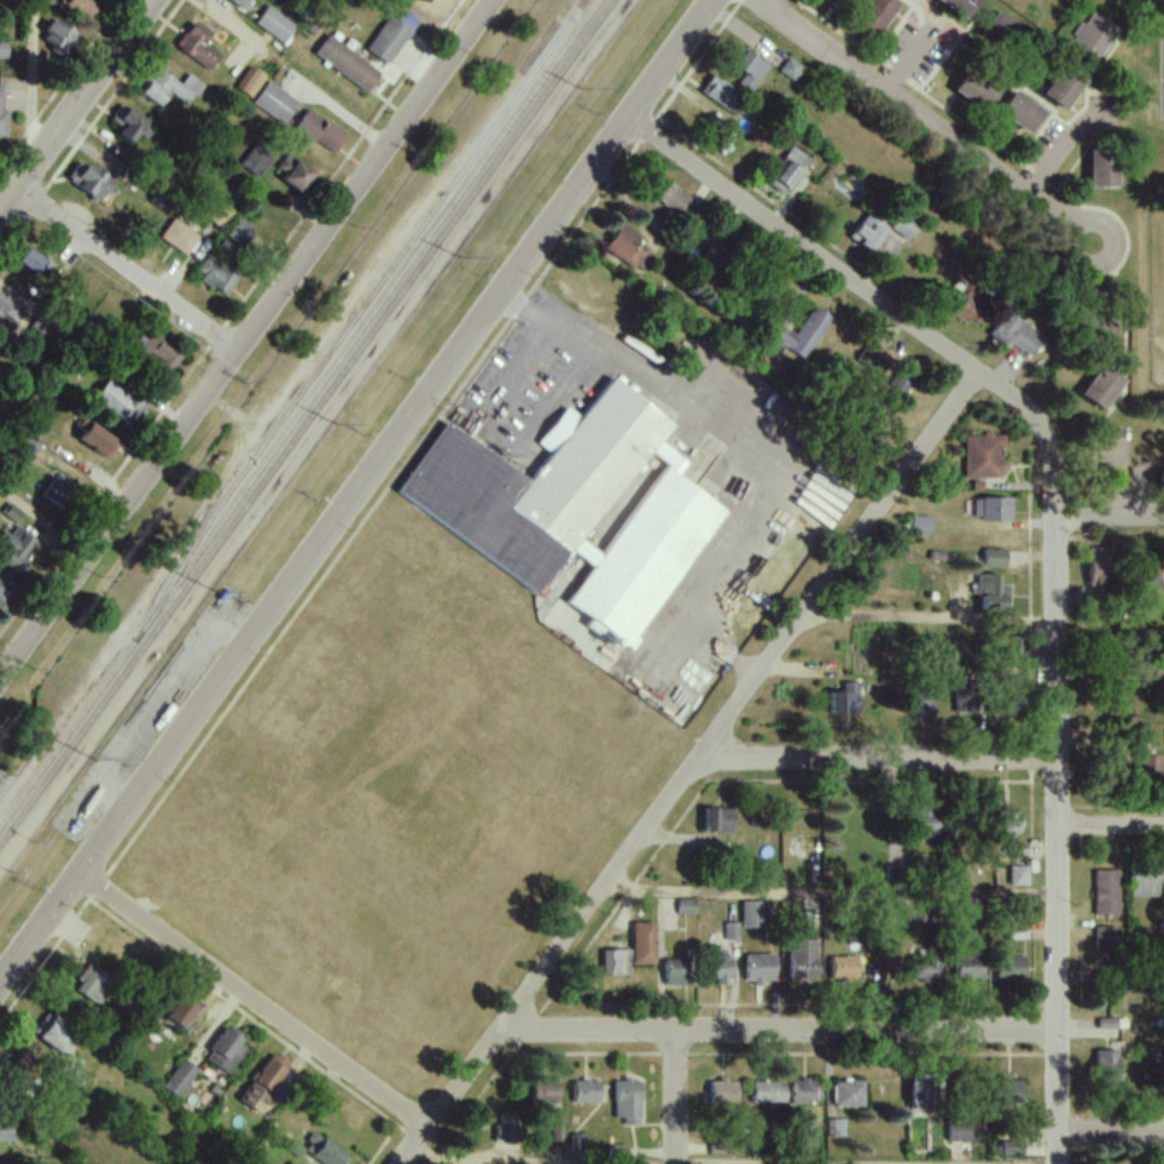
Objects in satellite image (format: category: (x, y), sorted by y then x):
building: (426, 1)
building: (828, 1)
building: (241, 2)
building: (81, 6)
building: (964, 6)
building: (878, 13)
building: (275, 24)
building: (999, 25)
building: (59, 35)
building: (1094, 35)
building: (391, 36)
building: (199, 47)
building: (2, 51)
building: (348, 63)
road: (907, 68)
building: (791, 69)
building: (751, 70)
building: (251, 81)
park: (1159, 81)
road: (30, 82)
building: (1065, 86)
building: (170, 87)
building: (977, 89)
building: (723, 94)
building: (274, 101)
road: (75, 104)
building: (1023, 111)
building: (2, 118)
building: (128, 122)
road: (938, 127)
building: (319, 132)
building: (256, 159)
road: (1048, 162)
building: (1104, 168)
building: (788, 170)
building: (295, 171)
building: (91, 180)
building: (673, 197)
building: (219, 214)
building: (904, 226)
building: (240, 231)
building: (869, 231)
building: (179, 237)
road: (803, 245)
building: (625, 246)
building: (35, 262)
road: (121, 264)
park: (1151, 266)
building: (216, 275)
park: (1157, 293)
building: (973, 305)
building: (6, 309)
railway: (351, 326)
building: (802, 333)
building: (1018, 334)
road: (244, 337)
building: (157, 350)
building: (874, 360)
building: (902, 382)
building: (1104, 386)
building: (121, 401)
railway: (302, 415)
railway: (307, 423)
road: (723, 429)
building: (98, 438)
building: (984, 456)
road: (1119, 479)
building: (59, 489)
road: (355, 493)
building: (578, 507)
building: (993, 508)
road: (1108, 517)
road: (43, 520)
building: (921, 523)
building: (14, 547)
building: (995, 558)
building: (1100, 566)
building: (4, 590)
building: (993, 592)
road: (924, 617)
road: (739, 660)
road: (1110, 673)
building: (967, 698)
building: (845, 699)
road: (1057, 751)
road: (878, 758)
building: (1150, 766)
road: (689, 769)
building: (717, 820)
building: (926, 823)
road: (1111, 823)
building: (1007, 825)
building: (1018, 875)
building: (1143, 884)
road: (106, 890)
road: (831, 890)
building: (1105, 892)
building: (686, 906)
building: (751, 914)
building: (732, 931)
building: (1104, 939)
building: (644, 943)
building: (802, 958)
building: (616, 962)
building: (929, 965)
building: (720, 966)
building: (759, 967)
building: (844, 967)
building: (968, 967)
building: (1011, 971)
building: (676, 972)
road: (1111, 976)
building: (94, 983)
building: (182, 1011)
road: (279, 1018)
building: (1107, 1023)
road: (780, 1031)
building: (56, 1032)
building: (227, 1049)
building: (23, 1066)
building: (1107, 1066)
building: (181, 1079)
building: (266, 1083)
building: (586, 1092)
building: (723, 1092)
building: (805, 1092)
building: (1009, 1092)
building: (545, 1093)
building: (769, 1093)
building: (849, 1094)
building: (924, 1096)
road: (676, 1098)
building: (628, 1101)
building: (511, 1125)
building: (960, 1130)
building: (7, 1131)
road: (1111, 1133)
building: (577, 1142)
building: (1012, 1148)
building: (325, 1151)
building: (616, 1154)
road: (596, 1162)
building: (292, 1163)
road: (1042, 1163)

